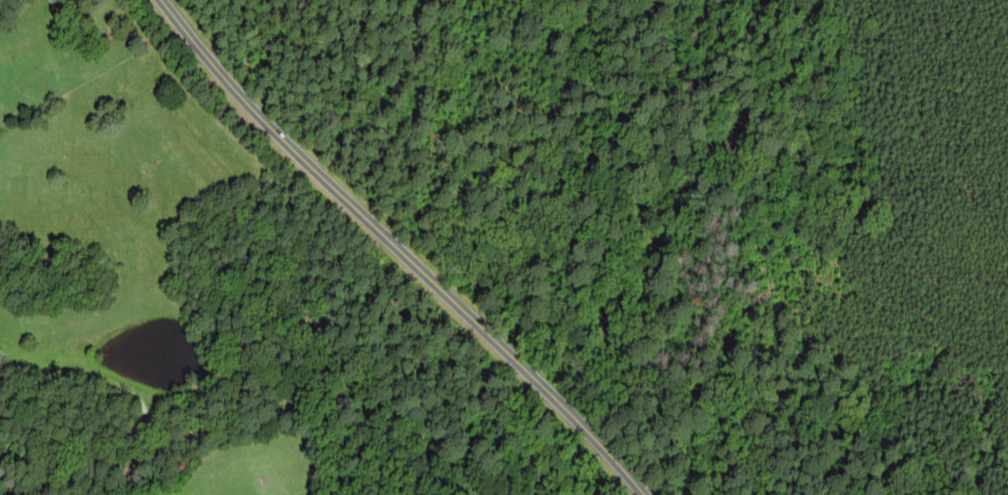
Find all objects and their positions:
road: (401, 250)

